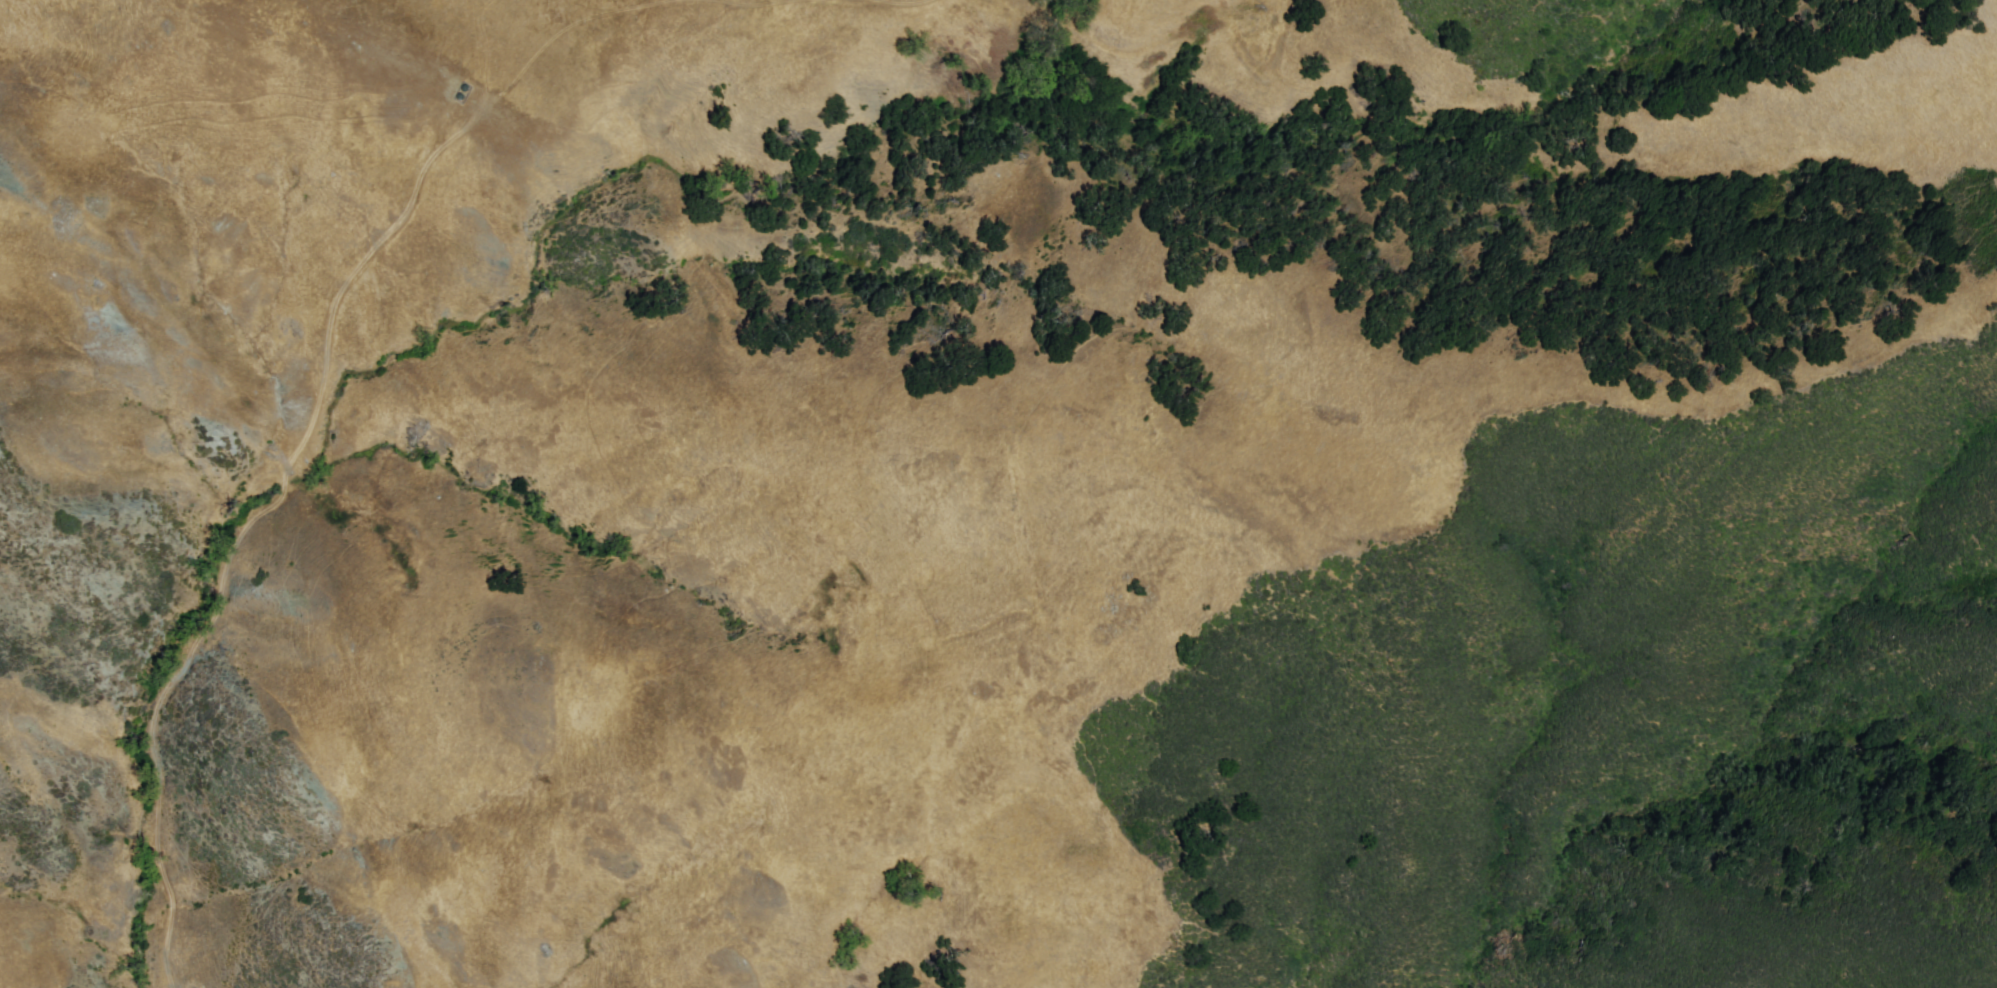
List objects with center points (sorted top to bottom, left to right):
road: (740, 3)
road: (902, 5)
road: (414, 185)

